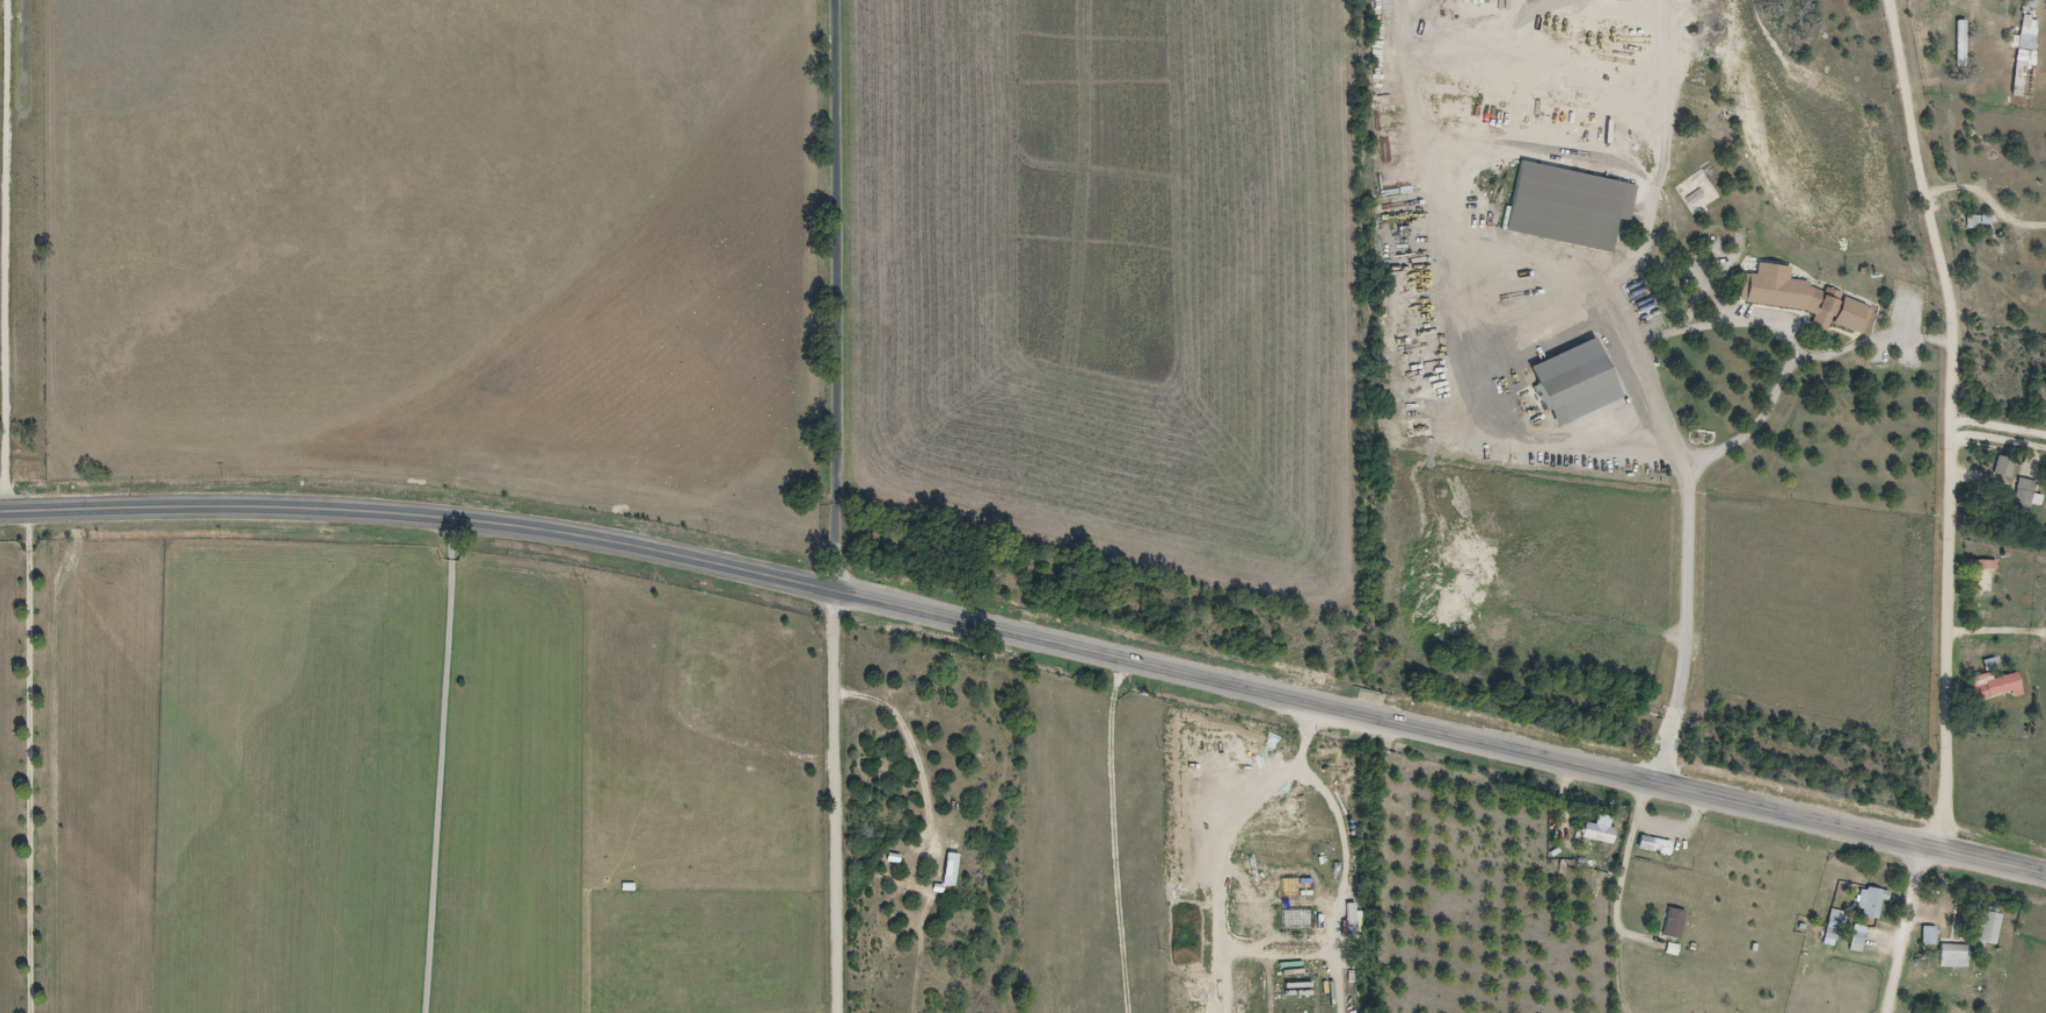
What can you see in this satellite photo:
building: (2028, 25)
road: (1971, 33)
building: (1979, 221)
building: (1757, 280)
building: (1773, 293)
road: (838, 296)
building: (1838, 310)
road: (1720, 328)
road: (1497, 356)
road: (1953, 422)
road: (1999, 428)
road: (1999, 442)
building: (2005, 466)
road: (1695, 471)
building: (2024, 495)
building: (1986, 576)
road: (1029, 638)
building: (1994, 680)
road: (441, 765)
road: (835, 803)
building: (1601, 832)
building: (1664, 846)
road: (1540, 850)
road: (1399, 868)
building: (1874, 901)
building: (1676, 922)
building: (1836, 924)
building: (1992, 926)
road: (1906, 930)
building: (1931, 935)
building: (1859, 941)
road: (1241, 951)
building: (1957, 955)
road: (1342, 977)
road: (1232, 980)
building: (1926, 1012)

